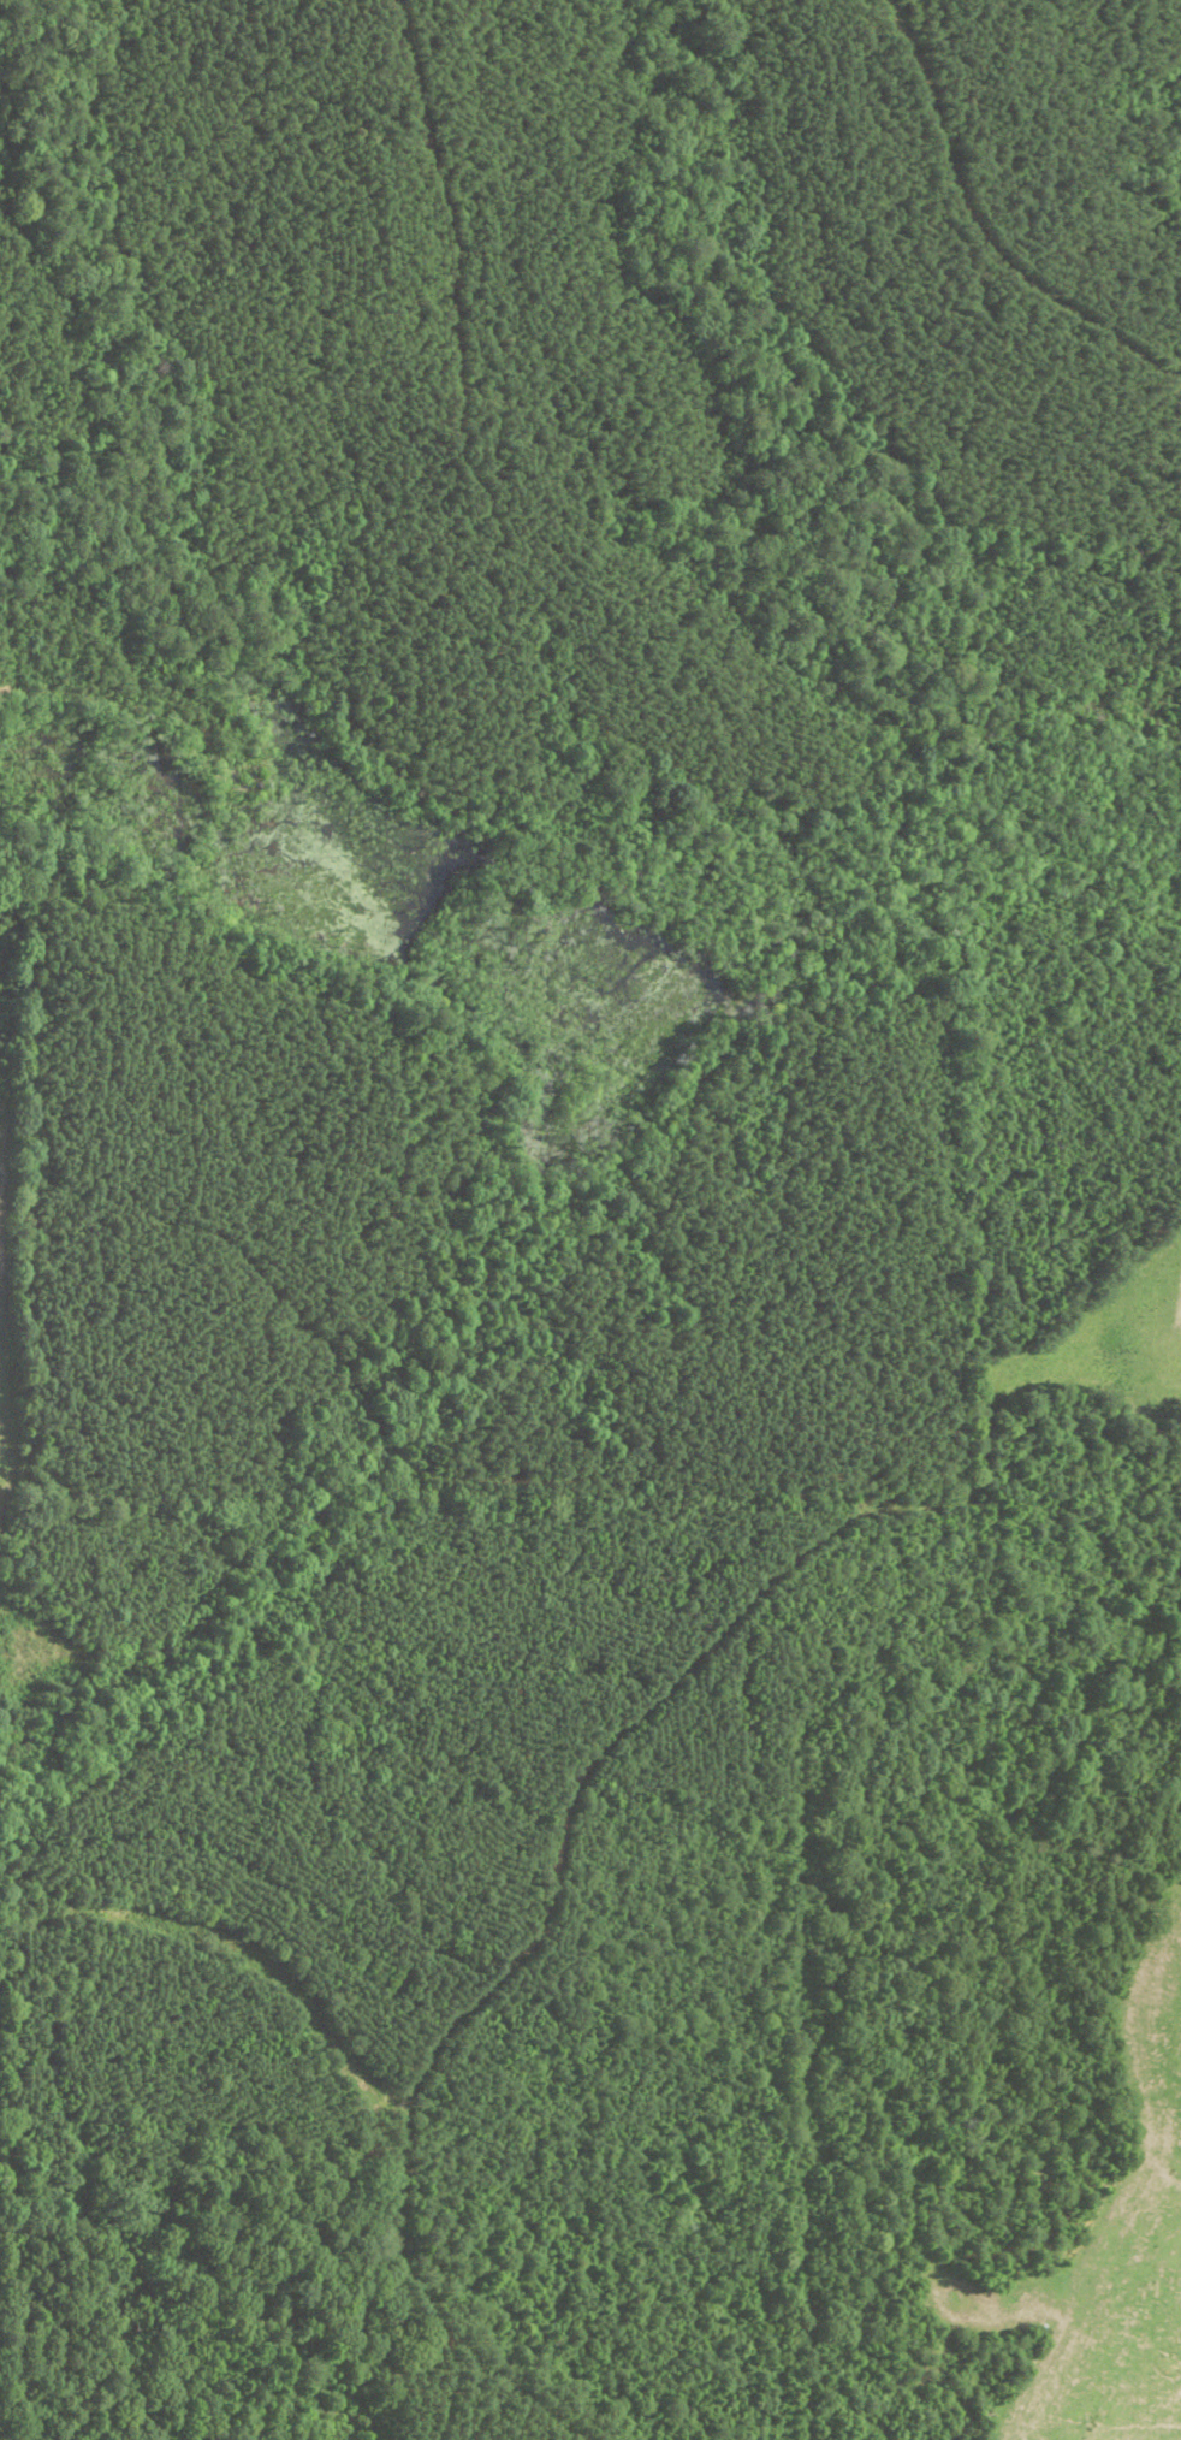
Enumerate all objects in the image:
road: (951, 247)

